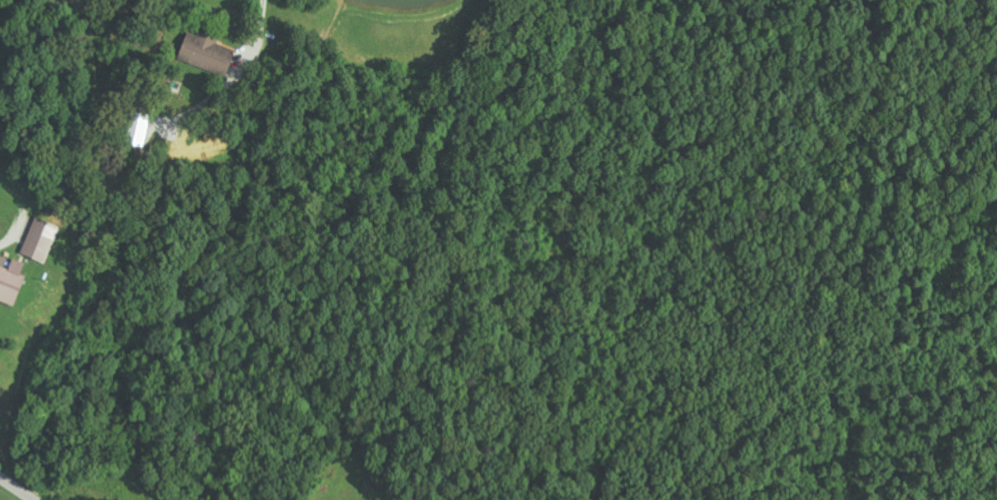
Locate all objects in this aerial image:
road: (253, 27)
building: (208, 52)
building: (140, 129)
road: (472, 147)
road: (12, 233)
building: (41, 240)
building: (12, 281)
road: (16, 488)

